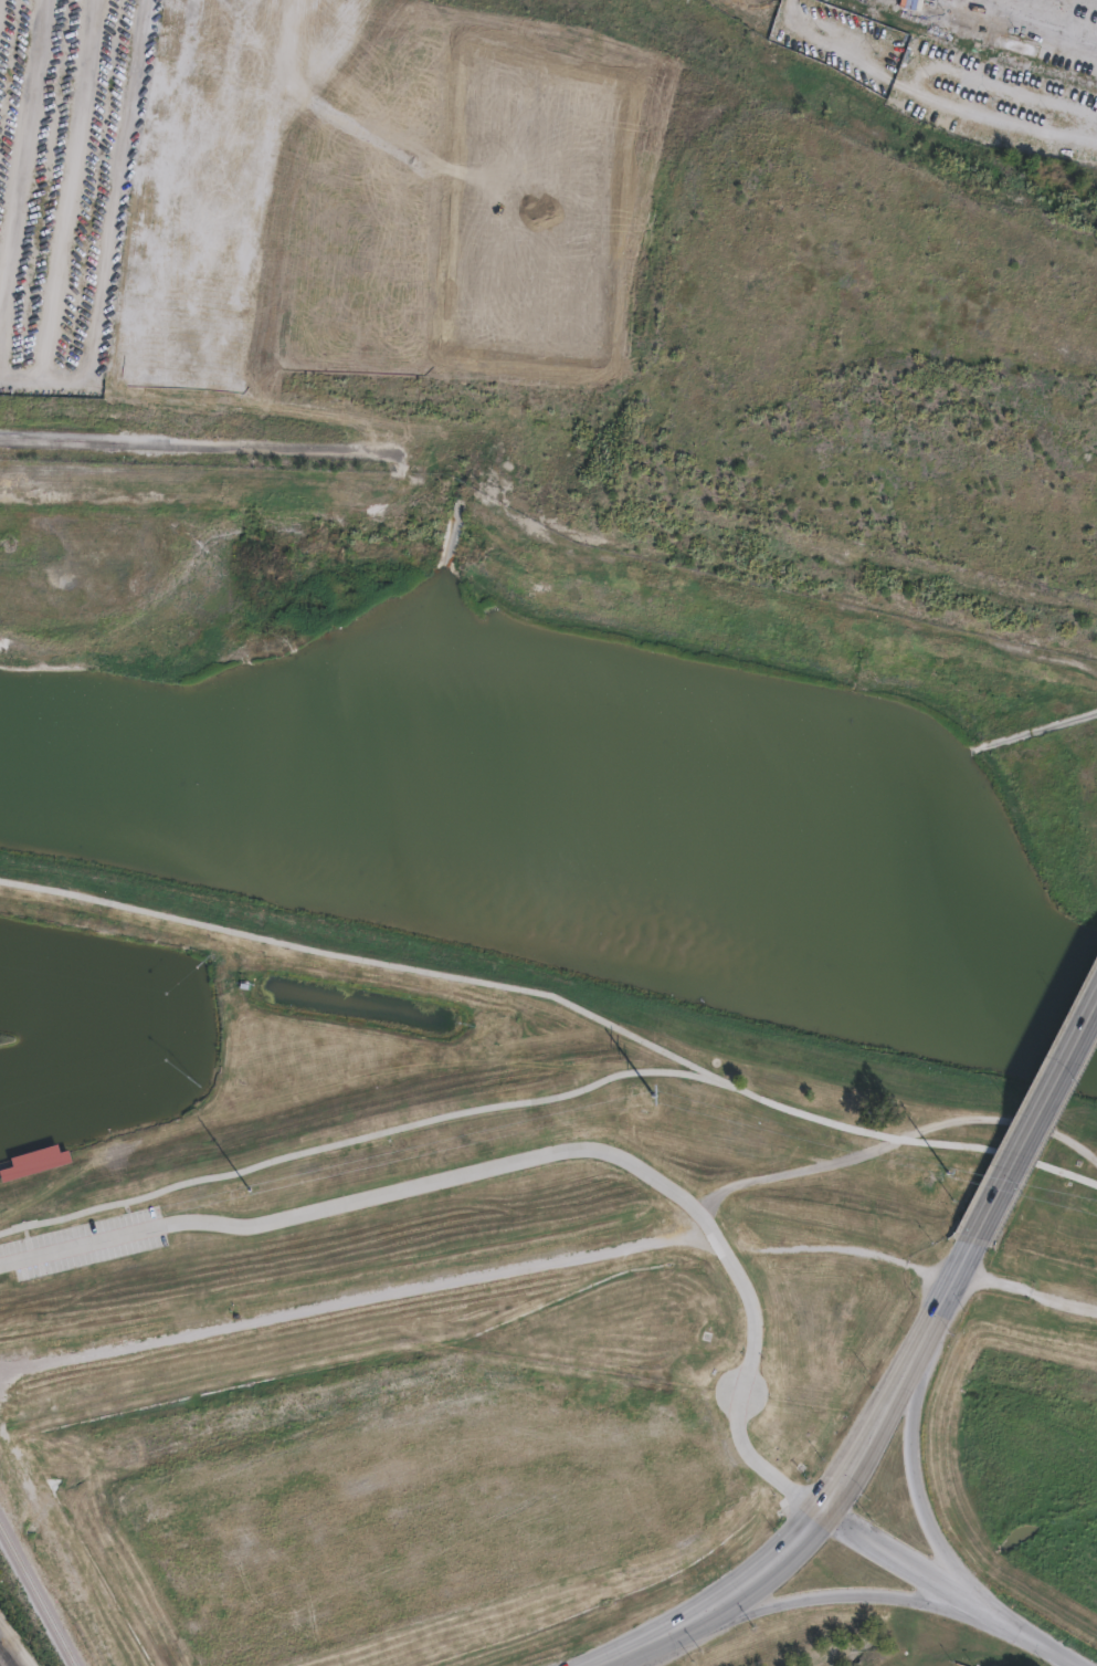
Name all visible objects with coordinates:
road: (24, 165)
road: (72, 184)
road: (114, 229)
river: (549, 853)
road: (560, 999)
power tower: (637, 1094)
road: (964, 1113)
road: (1034, 1118)
road: (358, 1138)
road: (536, 1154)
road: (760, 1174)
power tower: (963, 1174)
power tower: (234, 1192)
parking lot: (83, 1243)
road: (82, 1244)
road: (931, 1270)
road: (359, 1302)
road: (779, 1479)
road: (869, 1531)
railway: (38, 1595)
road: (940, 1600)
road: (971, 1602)
railway: (7, 1656)
railway: (7, 1657)
road: (1076, 1665)

